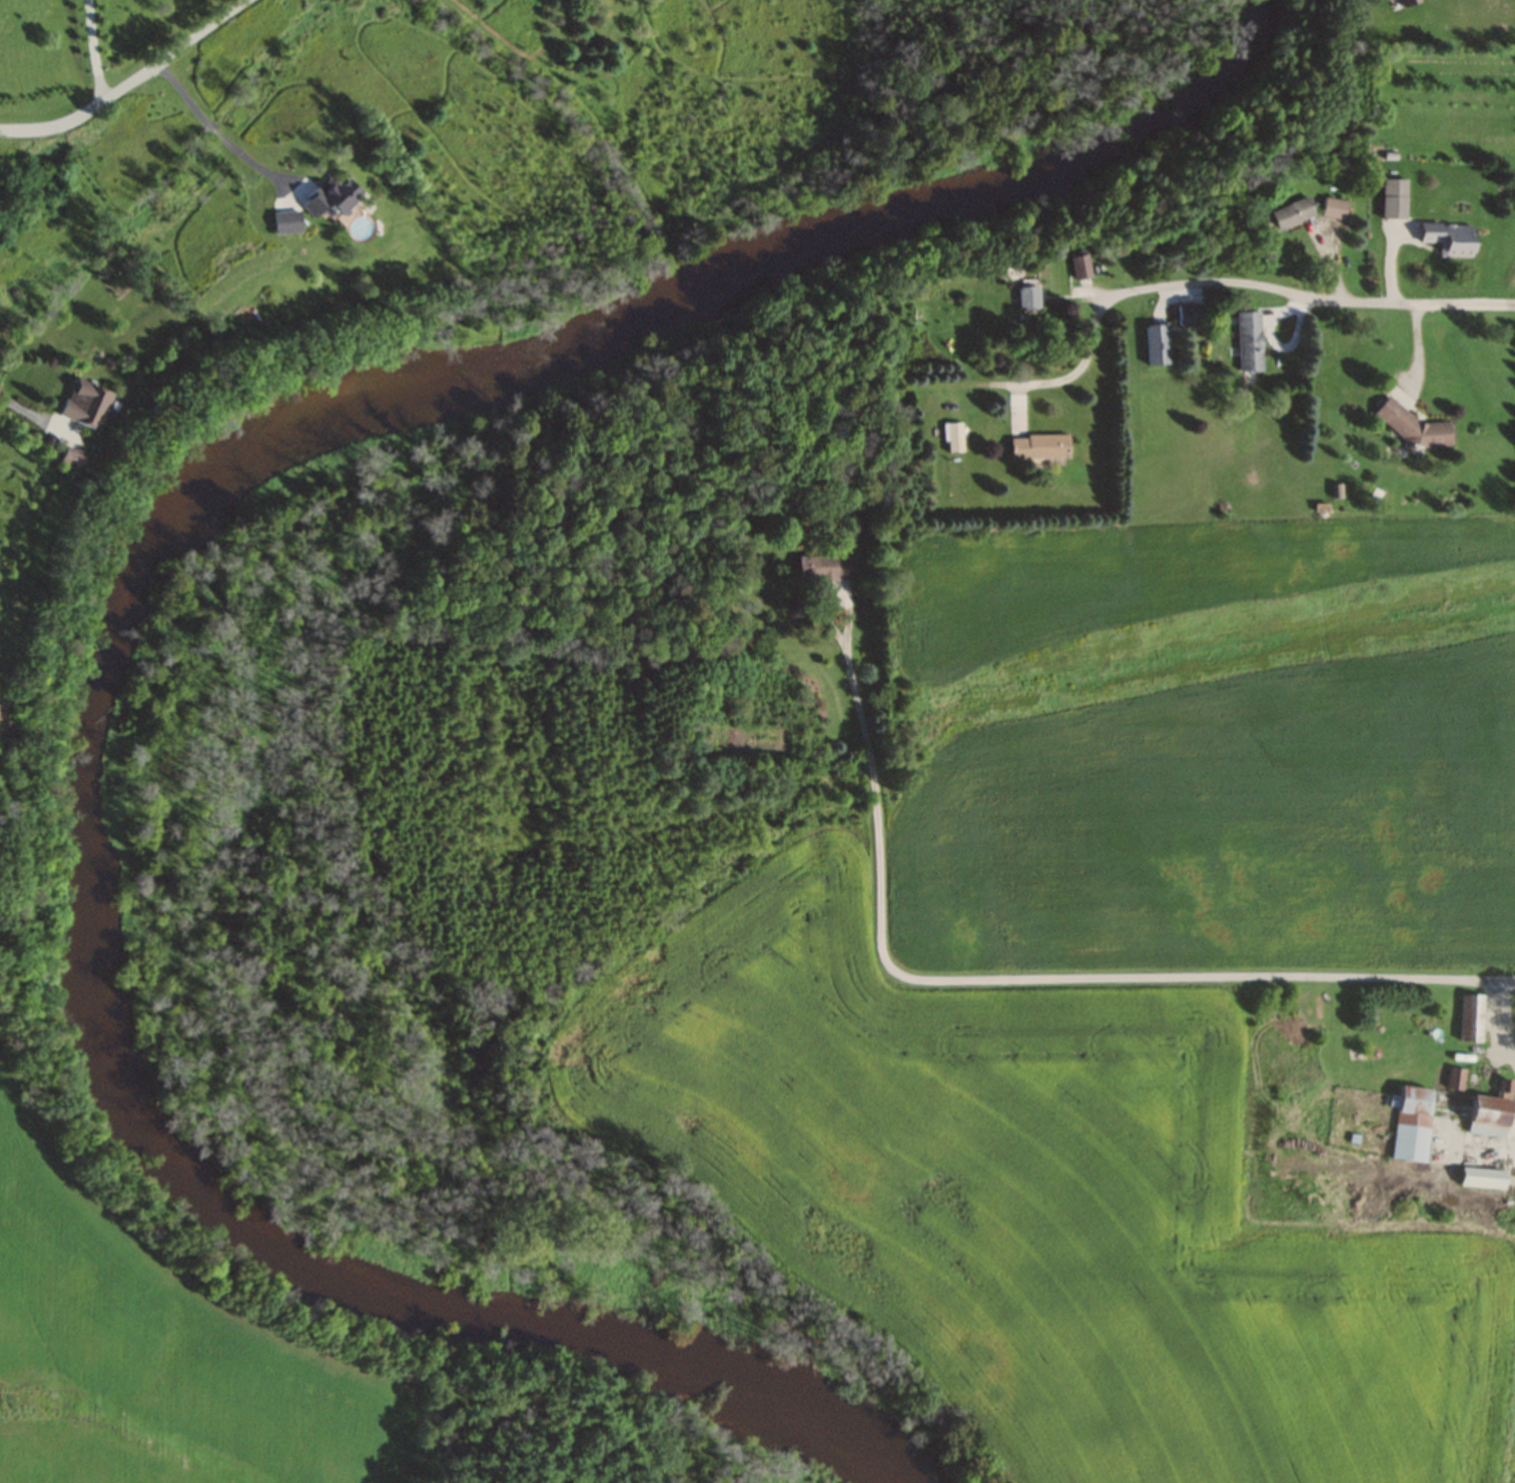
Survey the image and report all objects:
building: (1408, 3)
road: (94, 49)
road: (127, 80)
building: (332, 197)
building: (1394, 197)
building: (1334, 207)
building: (1287, 214)
building: (287, 221)
building: (1451, 237)
building: (1080, 265)
road: (1240, 283)
building: (1027, 295)
building: (1189, 313)
building: (1249, 340)
building: (1157, 343)
building: (85, 402)
road: (22, 411)
building: (1414, 425)
building: (953, 436)
building: (1039, 445)
building: (72, 456)
building: (826, 566)
river: (112, 626)
road: (1496, 978)
road: (1012, 979)
building: (1471, 1018)
building: (1447, 1116)
building: (1483, 1177)

